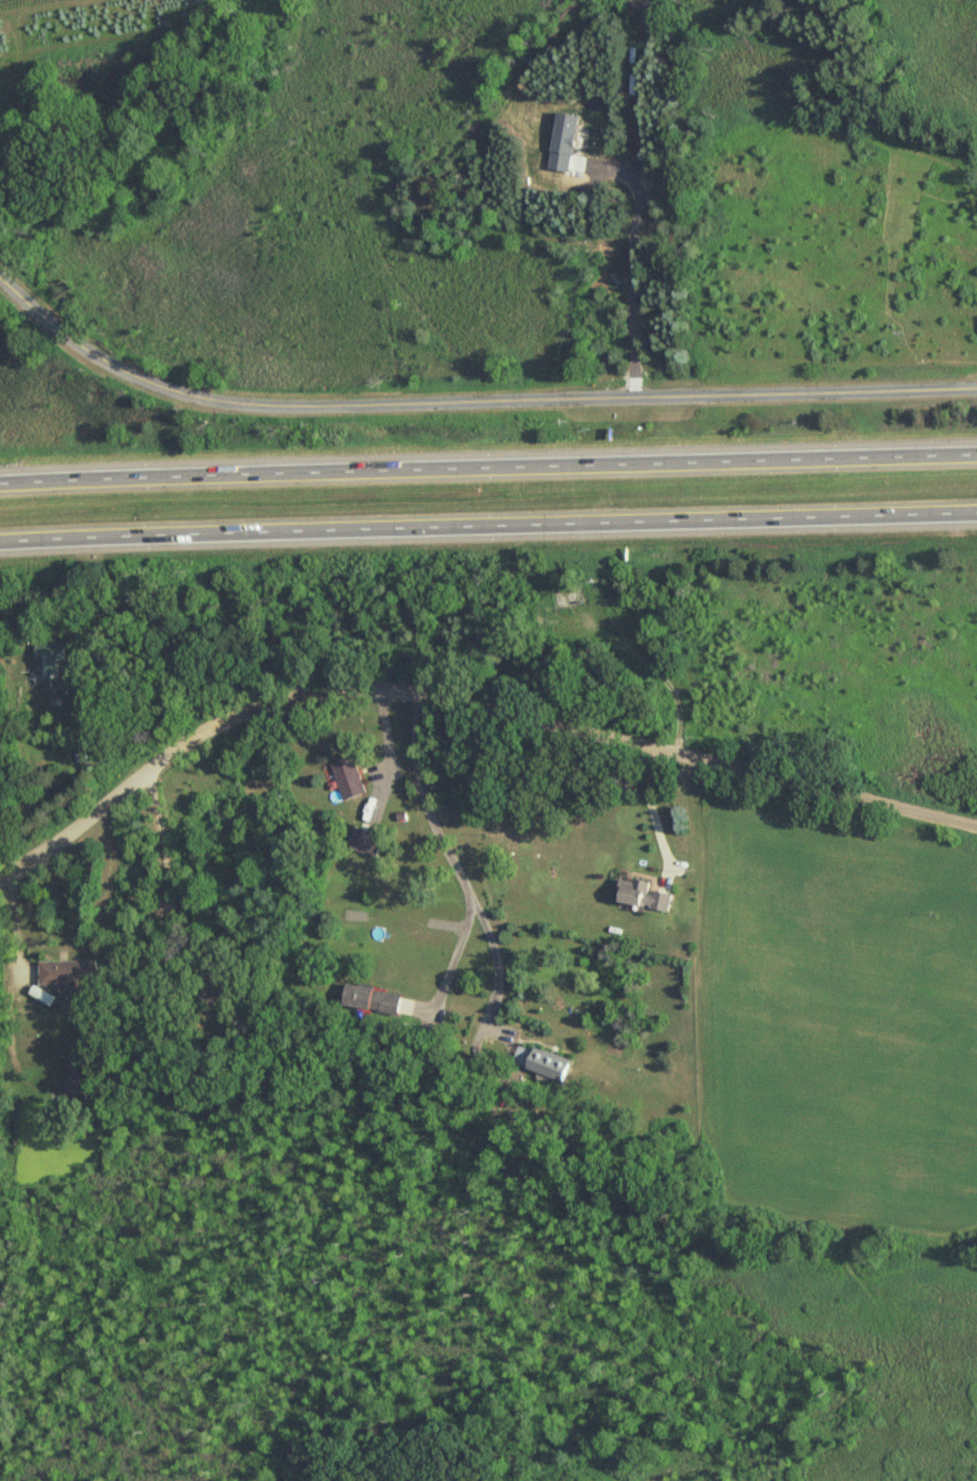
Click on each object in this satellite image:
crop: (79, 38)
road: (470, 404)
road: (488, 468)
road: (488, 526)
road: (185, 631)
building: (48, 660)
road: (469, 705)
building: (351, 778)
road: (658, 806)
building: (369, 843)
road: (457, 865)
road: (167, 870)
building: (645, 894)
road: (14, 922)
road: (453, 955)
building: (71, 972)
building: (224, 992)
building: (377, 999)
crop: (847, 1022)
building: (544, 1062)
building: (73, 1085)

